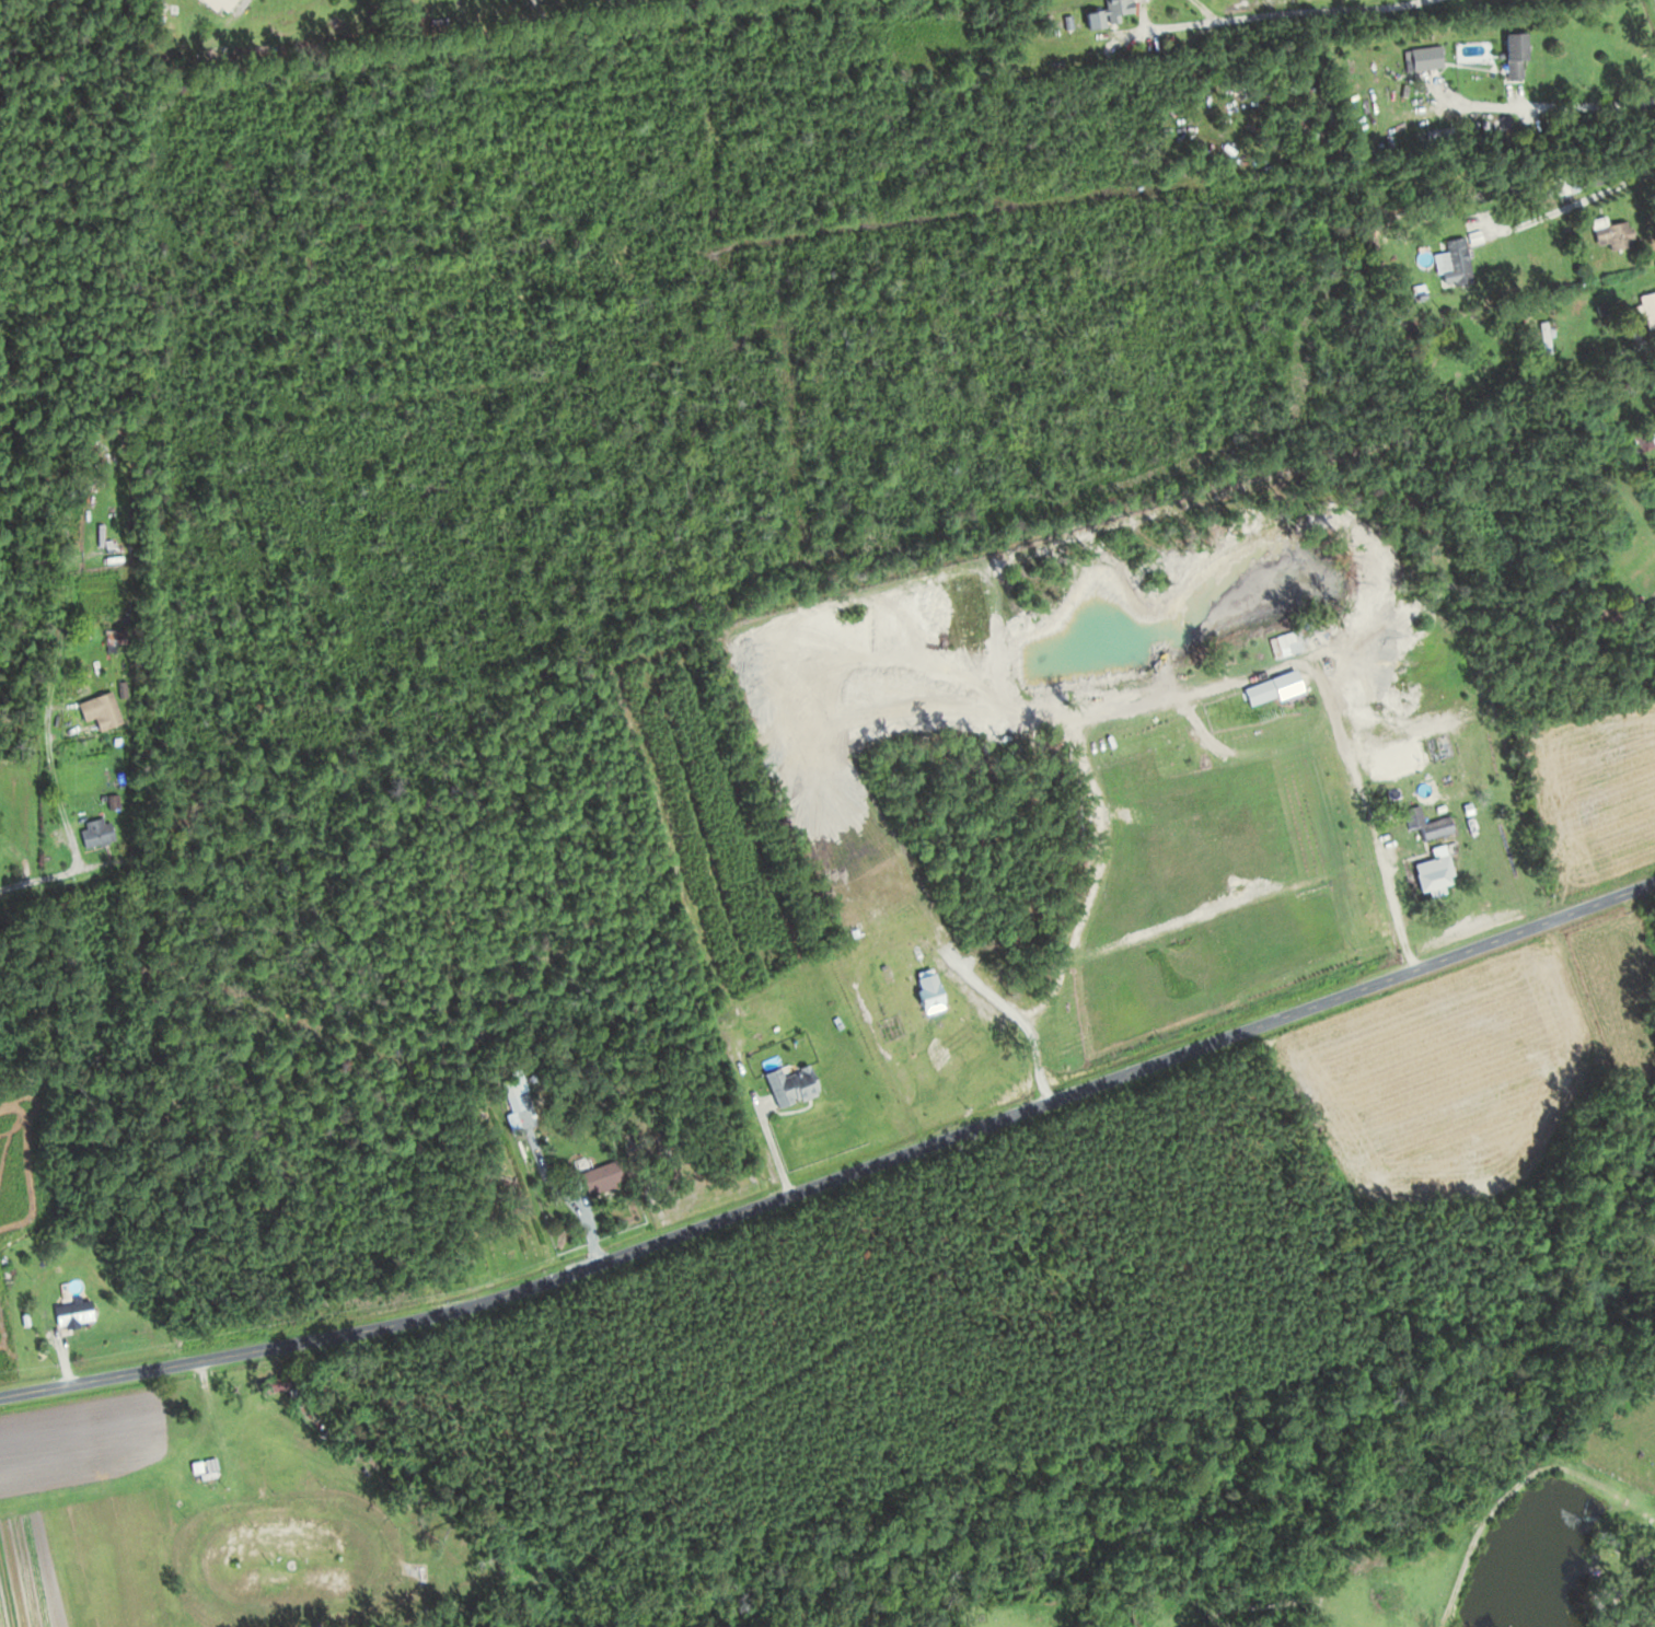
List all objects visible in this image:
building: (228, 5)
road: (240, 7)
road: (1211, 8)
road: (1305, 8)
building: (1114, 13)
road: (1170, 24)
road: (1134, 31)
building: (1506, 54)
building: (1419, 57)
road: (1516, 94)
road: (1540, 105)
road: (1569, 208)
building: (1607, 233)
building: (1451, 262)
building: (1646, 306)
building: (1538, 336)
road: (1632, 349)
building: (1641, 437)
building: (1652, 489)
road: (1225, 543)
building: (119, 636)
building: (1282, 641)
building: (1287, 684)
building: (1253, 690)
building: (106, 710)
road: (20, 780)
road: (62, 812)
road: (1374, 814)
building: (102, 832)
building: (0, 865)
building: (1427, 879)
road: (1015, 1014)
building: (801, 1083)
building: (518, 1095)
road: (774, 1143)
road: (546, 1164)
building: (610, 1177)
road: (837, 1179)
road: (590, 1225)
building: (79, 1313)
road: (69, 1368)
building: (288, 1383)
building: (209, 1465)

